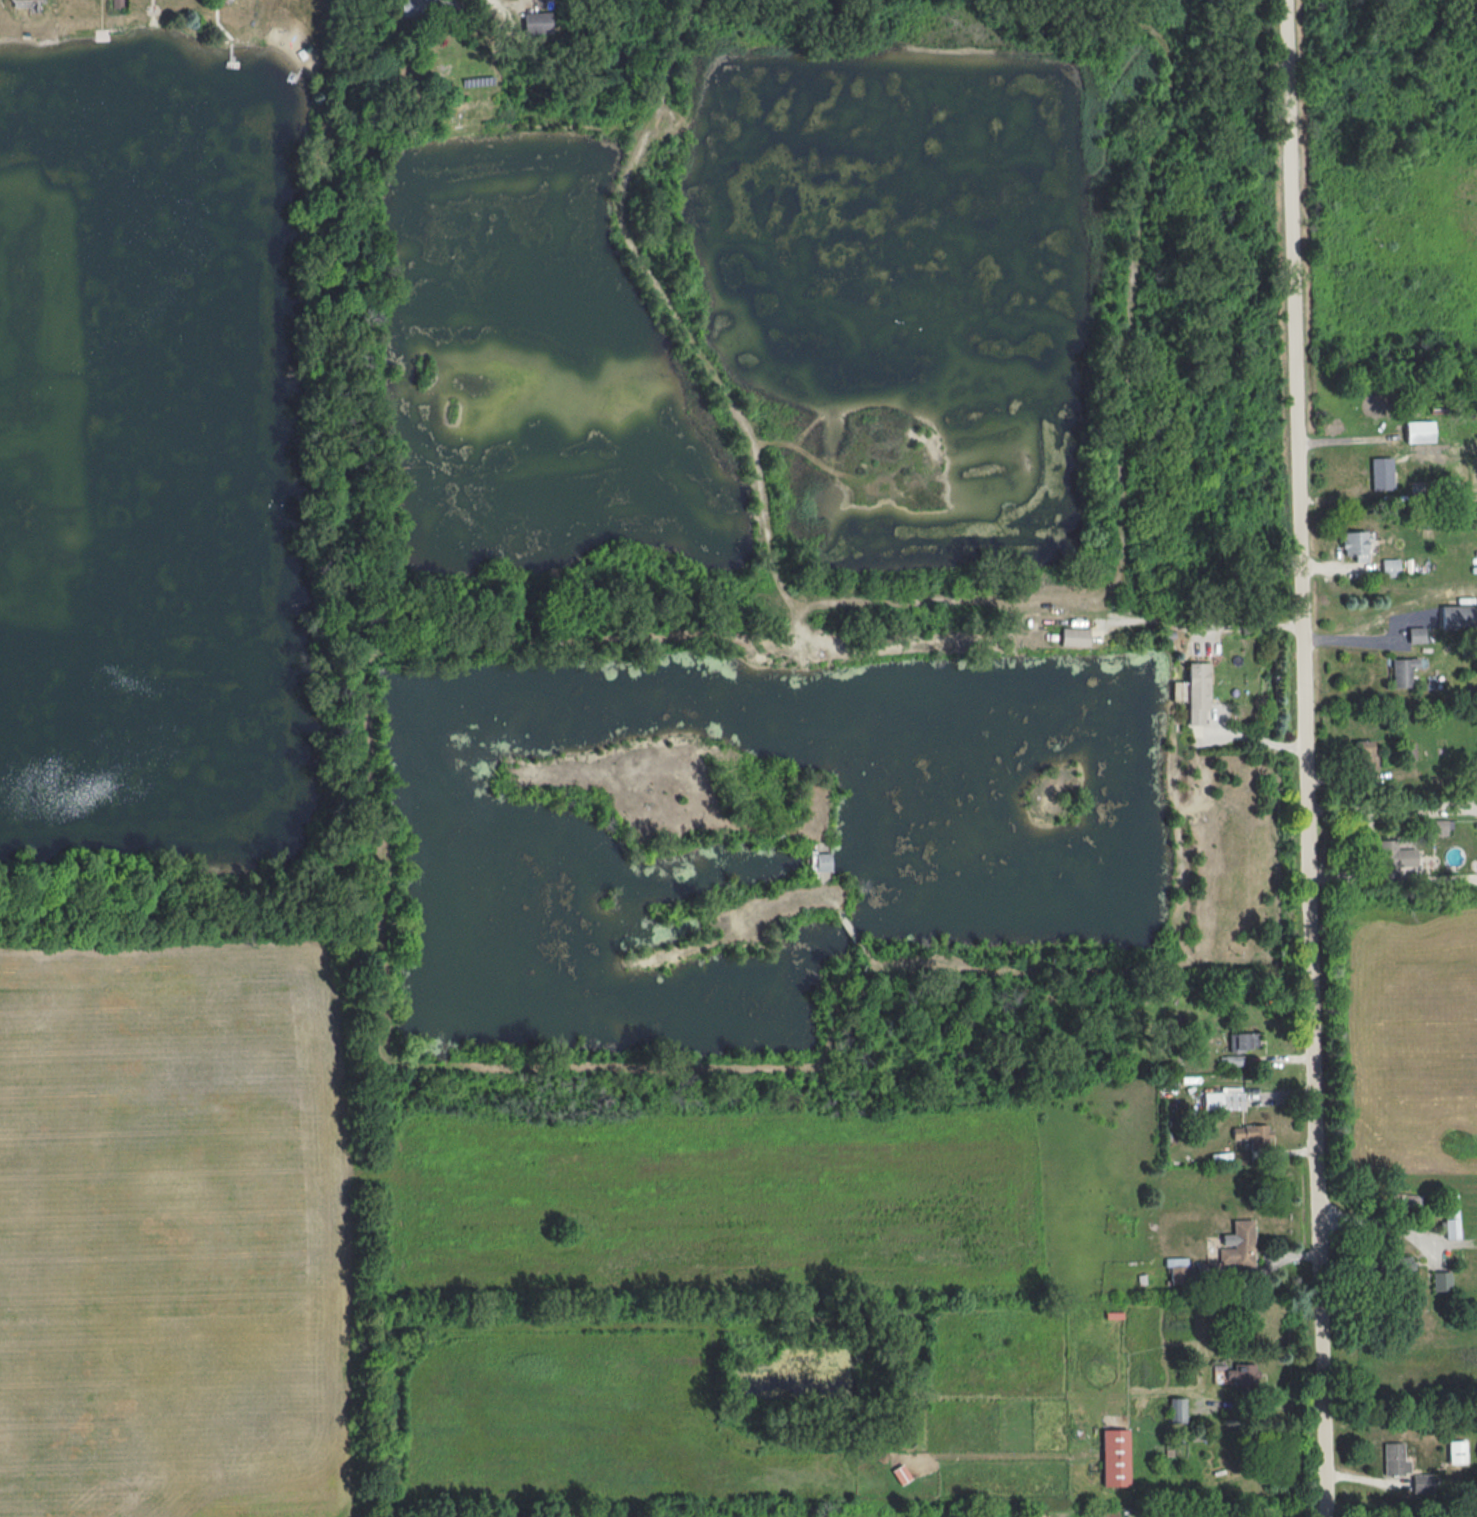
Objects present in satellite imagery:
road: (475, 2)
building: (426, 6)
building: (537, 22)
building: (1419, 431)
building: (1382, 473)
building: (1355, 545)
building: (1390, 567)
building: (1458, 616)
road: (1208, 624)
building: (1416, 634)
building: (1074, 637)
road: (1374, 640)
building: (1402, 671)
building: (1194, 691)
road: (1249, 736)
building: (1363, 754)
road: (1305, 758)
building: (1439, 827)
building: (1394, 858)
building: (822, 861)
building: (1242, 1040)
building: (1224, 1099)
building: (1252, 1133)
building: (1451, 1216)
road: (1370, 1222)
building: (1238, 1244)
building: (1401, 1265)
building: (1177, 1270)
building: (1441, 1281)
building: (1242, 1374)
building: (1179, 1410)
building: (1457, 1451)
building: (1115, 1457)
building: (1395, 1459)
building: (901, 1473)
building: (1422, 1482)

